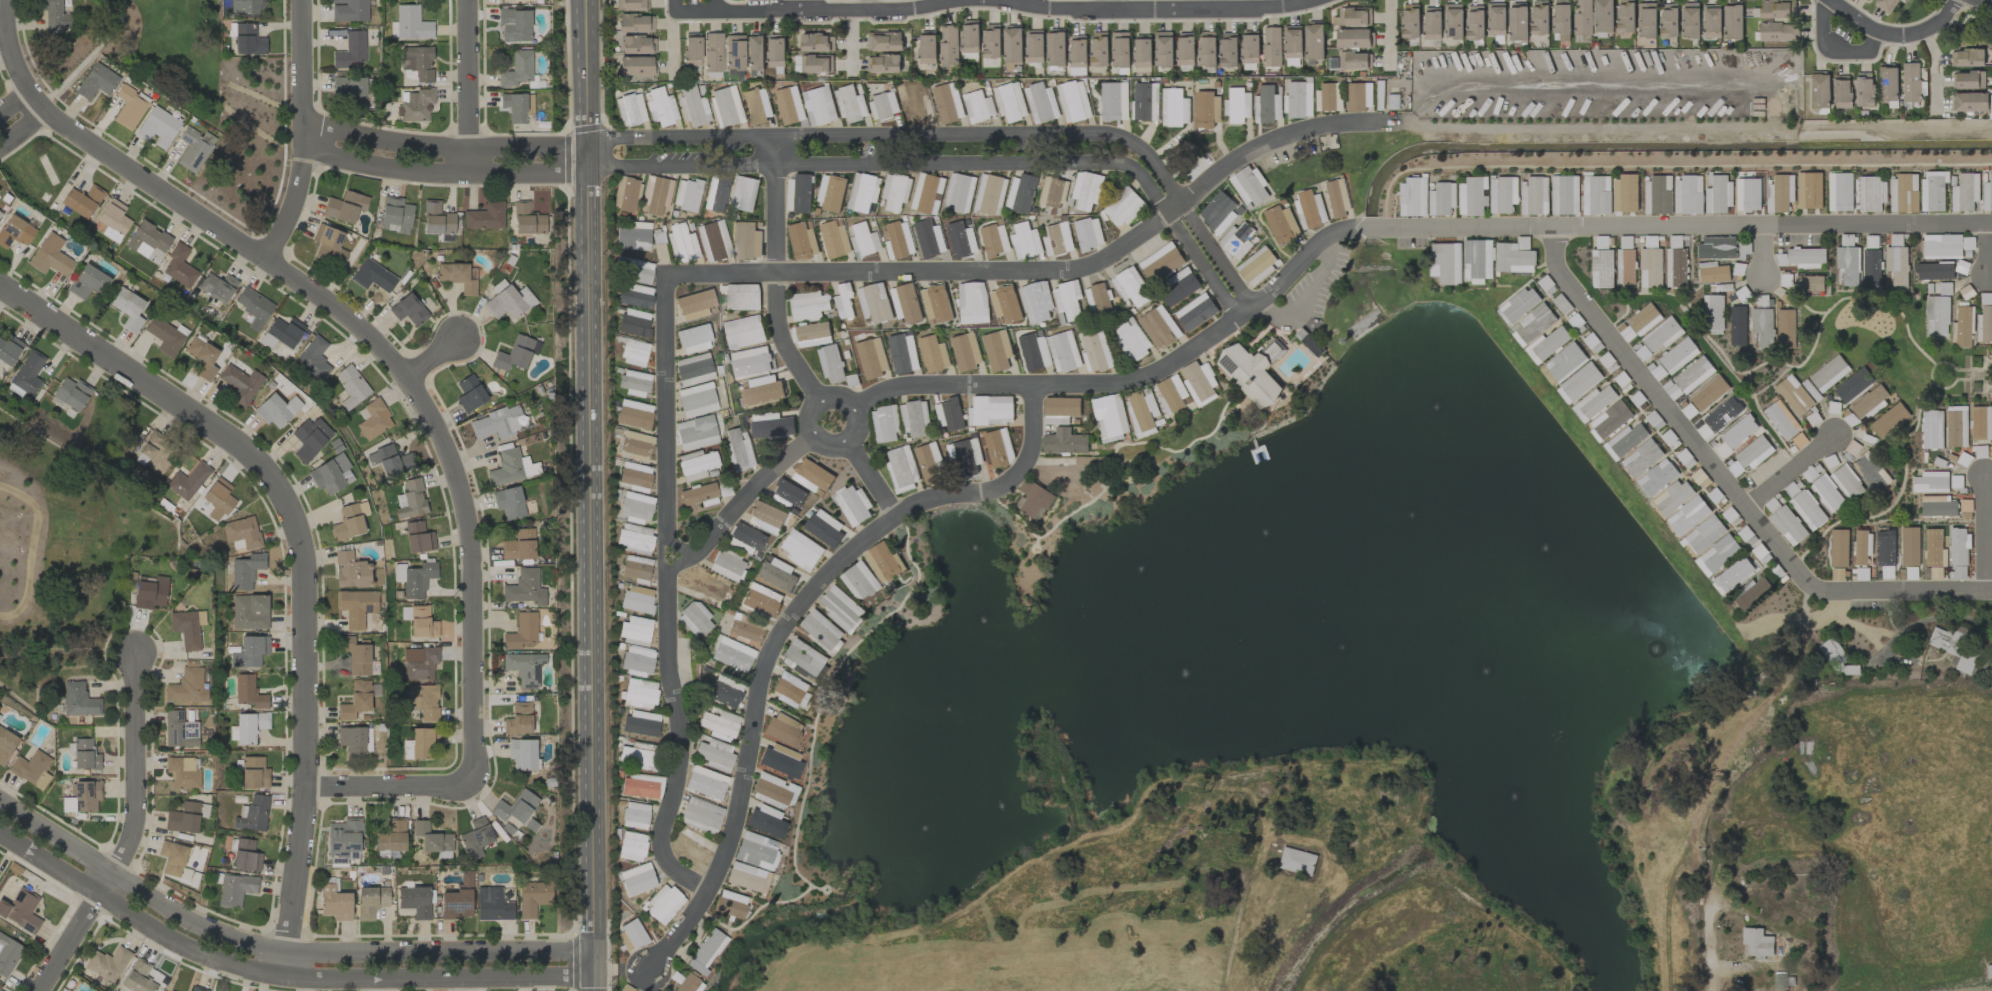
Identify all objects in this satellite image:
building: (1869, 0)
road: (1986, 2)
building: (630, 5)
road: (1115, 5)
road: (1258, 5)
building: (1885, 5)
building: (243, 6)
road: (713, 6)
road: (868, 6)
road: (673, 7)
building: (1777, 9)
building: (348, 10)
road: (1157, 10)
road: (822, 13)
building: (52, 15)
building: (1604, 16)
building: (1626, 16)
building: (1354, 17)
building: (1582, 17)
building: (1539, 18)
building: (1496, 19)
building: (1561, 19)
building: (1647, 20)
building: (1669, 20)
building: (1690, 20)
building: (1410, 21)
building: (1453, 21)
building: (1712, 21)
building: (634, 22)
building: (1733, 22)
building: (411, 23)
building: (1432, 23)
building: (1475, 23)
building: (1517, 23)
building: (514, 24)
road: (1389, 31)
building: (1777, 32)
building: (1354, 38)
road: (1899, 38)
building: (247, 39)
building: (970, 40)
building: (992, 41)
building: (1314, 41)
building: (885, 42)
building: (1292, 42)
building: (817, 43)
building: (637, 44)
building: (949, 45)
building: (1013, 45)
building: (1035, 46)
building: (1250, 47)
building: (1271, 47)
building: (927, 48)
building: (1056, 48)
building: (1100, 49)
building: (1163, 49)
building: (1185, 49)
building: (1207, 49)
building: (350, 50)
building: (776, 50)
building: (1120, 50)
building: (1228, 50)
road: (1833, 50)
building: (690, 51)
building: (712, 52)
building: (755, 52)
building: (1142, 53)
building: (733, 54)
building: (1078, 54)
building: (1967, 58)
building: (1355, 61)
building: (417, 62)
building: (816, 64)
building: (883, 64)
building: (636, 65)
building: (516, 69)
road: (1935, 71)
building: (1968, 80)
road: (465, 81)
building: (96, 82)
building: (1911, 82)
building: (1888, 83)
park: (186, 88)
building: (350, 88)
building: (1865, 90)
building: (1820, 91)
building: (1842, 92)
building: (1327, 97)
building: (1360, 97)
building: (1298, 100)
road: (13, 101)
building: (1074, 101)
building: (1010, 102)
building: (1146, 102)
building: (1394, 102)
building: (1971, 102)
building: (948, 103)
building: (1041, 103)
building: (914, 104)
building: (415, 105)
building: (757, 105)
building: (789, 105)
building: (851, 105)
building: (1267, 105)
building: (692, 106)
building: (725, 106)
building: (819, 106)
building: (883, 106)
building: (979, 106)
building: (1115, 106)
building: (1238, 106)
building: (128, 107)
building: (513, 107)
building: (660, 107)
building: (1174, 108)
building: (629, 109)
building: (1207, 110)
building: (157, 127)
road: (21, 130)
road: (299, 133)
road: (962, 138)
building: (193, 148)
road: (444, 159)
road: (953, 163)
road: (1216, 174)
building: (1250, 187)
building: (1086, 190)
building: (1933, 191)
building: (863, 192)
building: (1051, 192)
building: (624, 193)
building: (715, 193)
building: (743, 193)
building: (959, 193)
building: (1021, 193)
building: (1965, 193)
building: (655, 194)
building: (686, 194)
building: (799, 194)
building: (927, 194)
building: (1503, 194)
building: (1780, 194)
building: (1869, 194)
building: (1903, 194)
building: (990, 195)
building: (1564, 195)
building: (1596, 195)
building: (1657, 195)
building: (1688, 195)
building: (1718, 195)
building: (1987, 195)
building: (831, 196)
building: (1413, 196)
building: (1473, 196)
building: (1534, 196)
building: (1627, 196)
building: (1337, 198)
building: (1442, 199)
building: (82, 200)
building: (344, 207)
building: (1124, 207)
building: (1310, 209)
building: (0, 213)
building: (1220, 213)
building: (395, 215)
building: (484, 216)
building: (436, 219)
building: (526, 219)
building: (113, 220)
building: (1282, 225)
road: (1392, 227)
building: (15, 231)
building: (1088, 234)
building: (633, 238)
building: (900, 239)
building: (929, 239)
building: (147, 240)
building: (746, 240)
building: (834, 240)
building: (864, 240)
building: (961, 240)
building: (994, 240)
building: (1057, 240)
building: (1237, 240)
building: (712, 241)
building: (1025, 241)
building: (681, 242)
building: (802, 242)
building: (1604, 242)
building: (1947, 245)
building: (1717, 248)
road: (1985, 250)
road: (1761, 251)
building: (50, 256)
building: (1515, 256)
building: (1803, 258)
building: (1477, 259)
building: (1161, 263)
building: (1446, 263)
building: (179, 266)
building: (1257, 266)
building: (1847, 266)
building: (1625, 267)
building: (1896, 267)
building: (1650, 268)
building: (1676, 268)
building: (633, 269)
building: (1602, 269)
building: (1871, 270)
building: (1934, 271)
building: (1712, 273)
building: (372, 275)
building: (458, 276)
road: (774, 276)
building: (87, 282)
road: (591, 282)
building: (1809, 283)
building: (1181, 286)
building: (217, 287)
building: (1131, 287)
building: (634, 296)
building: (743, 297)
road: (1307, 297)
building: (1097, 299)
building: (1986, 299)
building: (508, 300)
building: (1068, 300)
building: (844, 301)
building: (1036, 302)
building: (875, 303)
building: (906, 303)
building: (973, 303)
building: (694, 304)
building: (936, 304)
building: (1005, 304)
building: (808, 305)
building: (1519, 305)
building: (127, 308)
building: (254, 308)
building: (408, 310)
building: (1196, 312)
building: (1713, 314)
building: (1936, 315)
building: (1644, 319)
building: (634, 323)
building: (1532, 325)
building: (1738, 325)
building: (1984, 325)
building: (1762, 326)
building: (1159, 328)
building: (1962, 328)
building: (1786, 329)
building: (281, 332)
building: (744, 332)
building: (810, 332)
building: (1662, 335)
building: (165, 336)
building: (693, 338)
building: (1132, 340)
building: (814, 342)
building: (1547, 345)
building: (9, 349)
building: (997, 350)
building: (1063, 351)
building: (633, 352)
building: (966, 352)
building: (1034, 352)
building: (515, 353)
building: (1096, 353)
building: (903, 354)
building: (934, 354)
building: (1678, 355)
road: (432, 356)
building: (202, 357)
building: (872, 358)
building: (312, 359)
building: (1565, 361)
building: (755, 363)
building: (831, 363)
building: (693, 369)
road: (1638, 370)
building: (1254, 372)
building: (27, 373)
building: (1829, 373)
building: (1694, 375)
road: (407, 377)
building: (635, 382)
building: (1199, 382)
building: (239, 383)
building: (1579, 383)
building: (350, 386)
building: (1853, 386)
building: (762, 391)
building: (71, 393)
building: (469, 393)
building: (1709, 393)
building: (1171, 394)
building: (1794, 395)
building: (696, 399)
building: (1870, 402)
building: (1594, 403)
building: (1062, 407)
building: (275, 409)
building: (991, 411)
building: (1142, 412)
building: (1725, 413)
building: (633, 414)
building: (949, 415)
building: (1110, 418)
building: (372, 419)
building: (915, 419)
building: (1611, 419)
building: (1782, 420)
building: (1889, 421)
building: (495, 422)
building: (1981, 423)
building: (885, 424)
building: (1956, 426)
building: (773, 427)
building: (1932, 429)
building: (695, 432)
building: (1739, 432)
building: (309, 438)
building: (1625, 441)
building: (1064, 442)
building: (634, 444)
road: (838, 444)
building: (740, 448)
building: (999, 448)
building: (976, 451)
building: (1755, 451)
building: (152, 453)
building: (964, 458)
building: (1642, 458)
building: (389, 460)
building: (696, 464)
building: (930, 464)
building: (511, 467)
building: (902, 469)
road: (1789, 469)
building: (1871, 473)
building: (330, 474)
building: (635, 476)
building: (812, 476)
building: (1657, 477)
road: (869, 479)
building: (187, 481)
building: (1847, 482)
building: (1931, 482)
building: (1828, 493)
building: (789, 494)
building: (698, 495)
building: (1672, 497)
building: (218, 498)
building: (410, 499)
road: (738, 500)
building: (1033, 500)
building: (508, 502)
building: (853, 505)
building: (635, 507)
building: (1939, 507)
building: (1808, 510)
building: (764, 515)
building: (1688, 516)
building: (347, 522)
building: (1786, 523)
building: (824, 528)
building: (240, 533)
road: (1982, 533)
building: (1705, 535)
building: (417, 537)
building: (635, 538)
park: (67, 539)
building: (746, 539)
building: (518, 545)
building: (1910, 546)
building: (1862, 547)
building: (1958, 547)
track: (14, 548)
building: (1839, 548)
building: (1885, 548)
building: (1933, 548)
building: (801, 550)
building: (1720, 553)
road: (303, 559)
building: (883, 562)
building: (725, 566)
building: (635, 568)
building: (245, 570)
building: (349, 570)
building: (1958, 573)
building: (1837, 574)
building: (1862, 574)
building: (777, 575)
building: (414, 578)
building: (861, 581)
building: (524, 587)
building: (705, 588)
building: (149, 592)
road: (1848, 593)
road: (667, 595)
building: (637, 599)
building: (761, 602)
building: (355, 606)
building: (842, 609)
building: (249, 611)
building: (693, 619)
building: (419, 621)
road: (593, 623)
road: (782, 626)
building: (187, 628)
building: (634, 630)
building: (744, 630)
building: (822, 631)
building: (522, 633)
building: (1954, 648)
building: (249, 651)
building: (1831, 652)
building: (355, 654)
building: (732, 654)
building: (804, 659)
building: (636, 660)
building: (419, 662)
building: (523, 667)
building: (186, 686)
building: (788, 689)
building: (247, 691)
building: (722, 691)
building: (639, 693)
building: (78, 700)
building: (355, 700)
building: (422, 700)
building: (518, 719)
building: (640, 722)
building: (719, 724)
building: (247, 727)
building: (783, 729)
building: (178, 730)
building: (354, 739)
building: (420, 743)
building: (5, 744)
building: (521, 753)
building: (83, 754)
building: (715, 754)
building: (636, 757)
building: (779, 763)
building: (31, 768)
building: (182, 772)
building: (253, 772)
building: (708, 784)
building: (641, 785)
building: (772, 790)
building: (515, 807)
building: (252, 814)
building: (634, 815)
building: (700, 815)
building: (183, 818)
building: (765, 821)
road: (594, 829)
road: (129, 833)
building: (391, 835)
building: (475, 837)
building: (432, 839)
building: (343, 840)
building: (631, 846)
building: (691, 847)
building: (756, 850)
building: (245, 855)
building: (171, 858)
building: (1297, 861)
building: (744, 876)
building: (636, 878)
building: (234, 889)
building: (532, 897)
building: (458, 899)
building: (370, 900)
building: (414, 900)
building: (334, 902)
building: (663, 902)
building: (729, 903)
building: (492, 904)
building: (20, 910)
road: (1240, 924)
building: (630, 935)
building: (1757, 943)
road: (278, 950)
building: (705, 950)
road: (1709, 952)
building: (7, 954)
building: (107, 963)
road: (620, 971)
building: (1989, 972)
building: (137, 977)
road: (278, 977)
building: (1780, 981)
building: (684, 982)
road: (595, 984)
building: (0, 986)
building: (196, 989)

